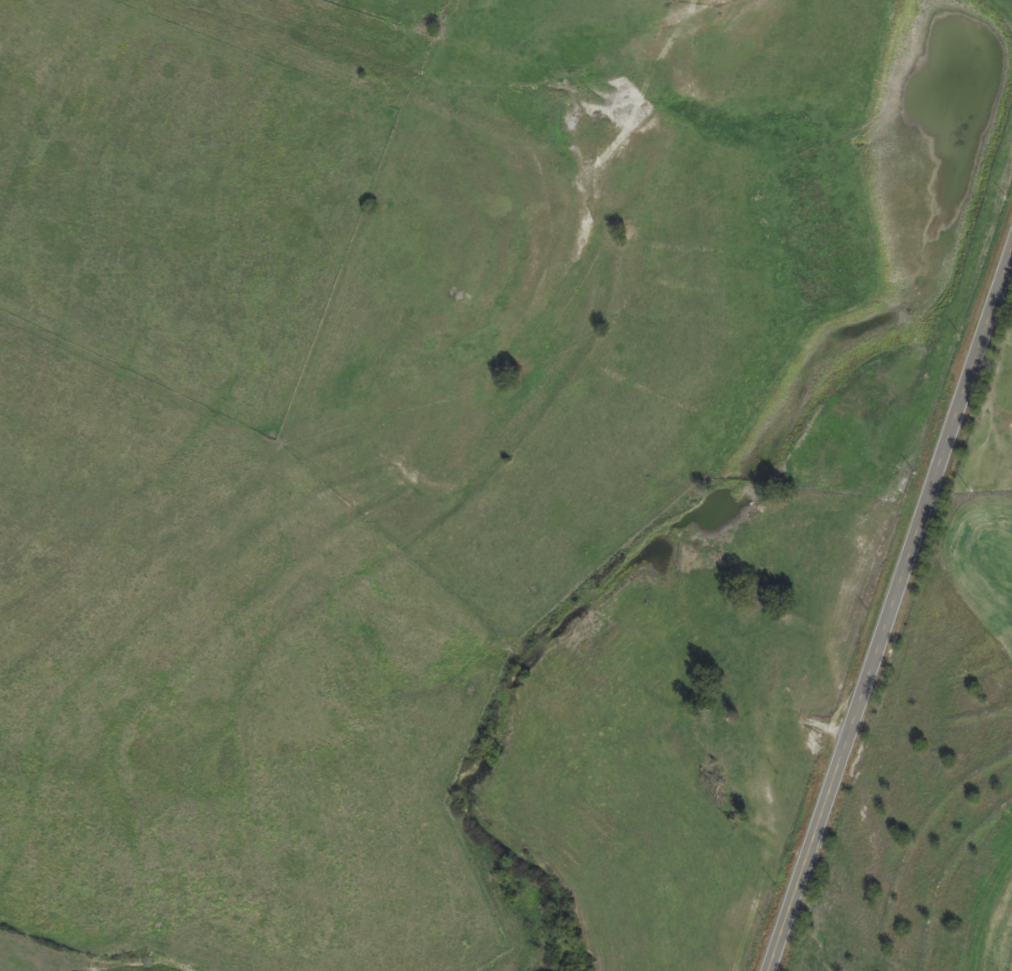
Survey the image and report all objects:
road: (888, 608)

